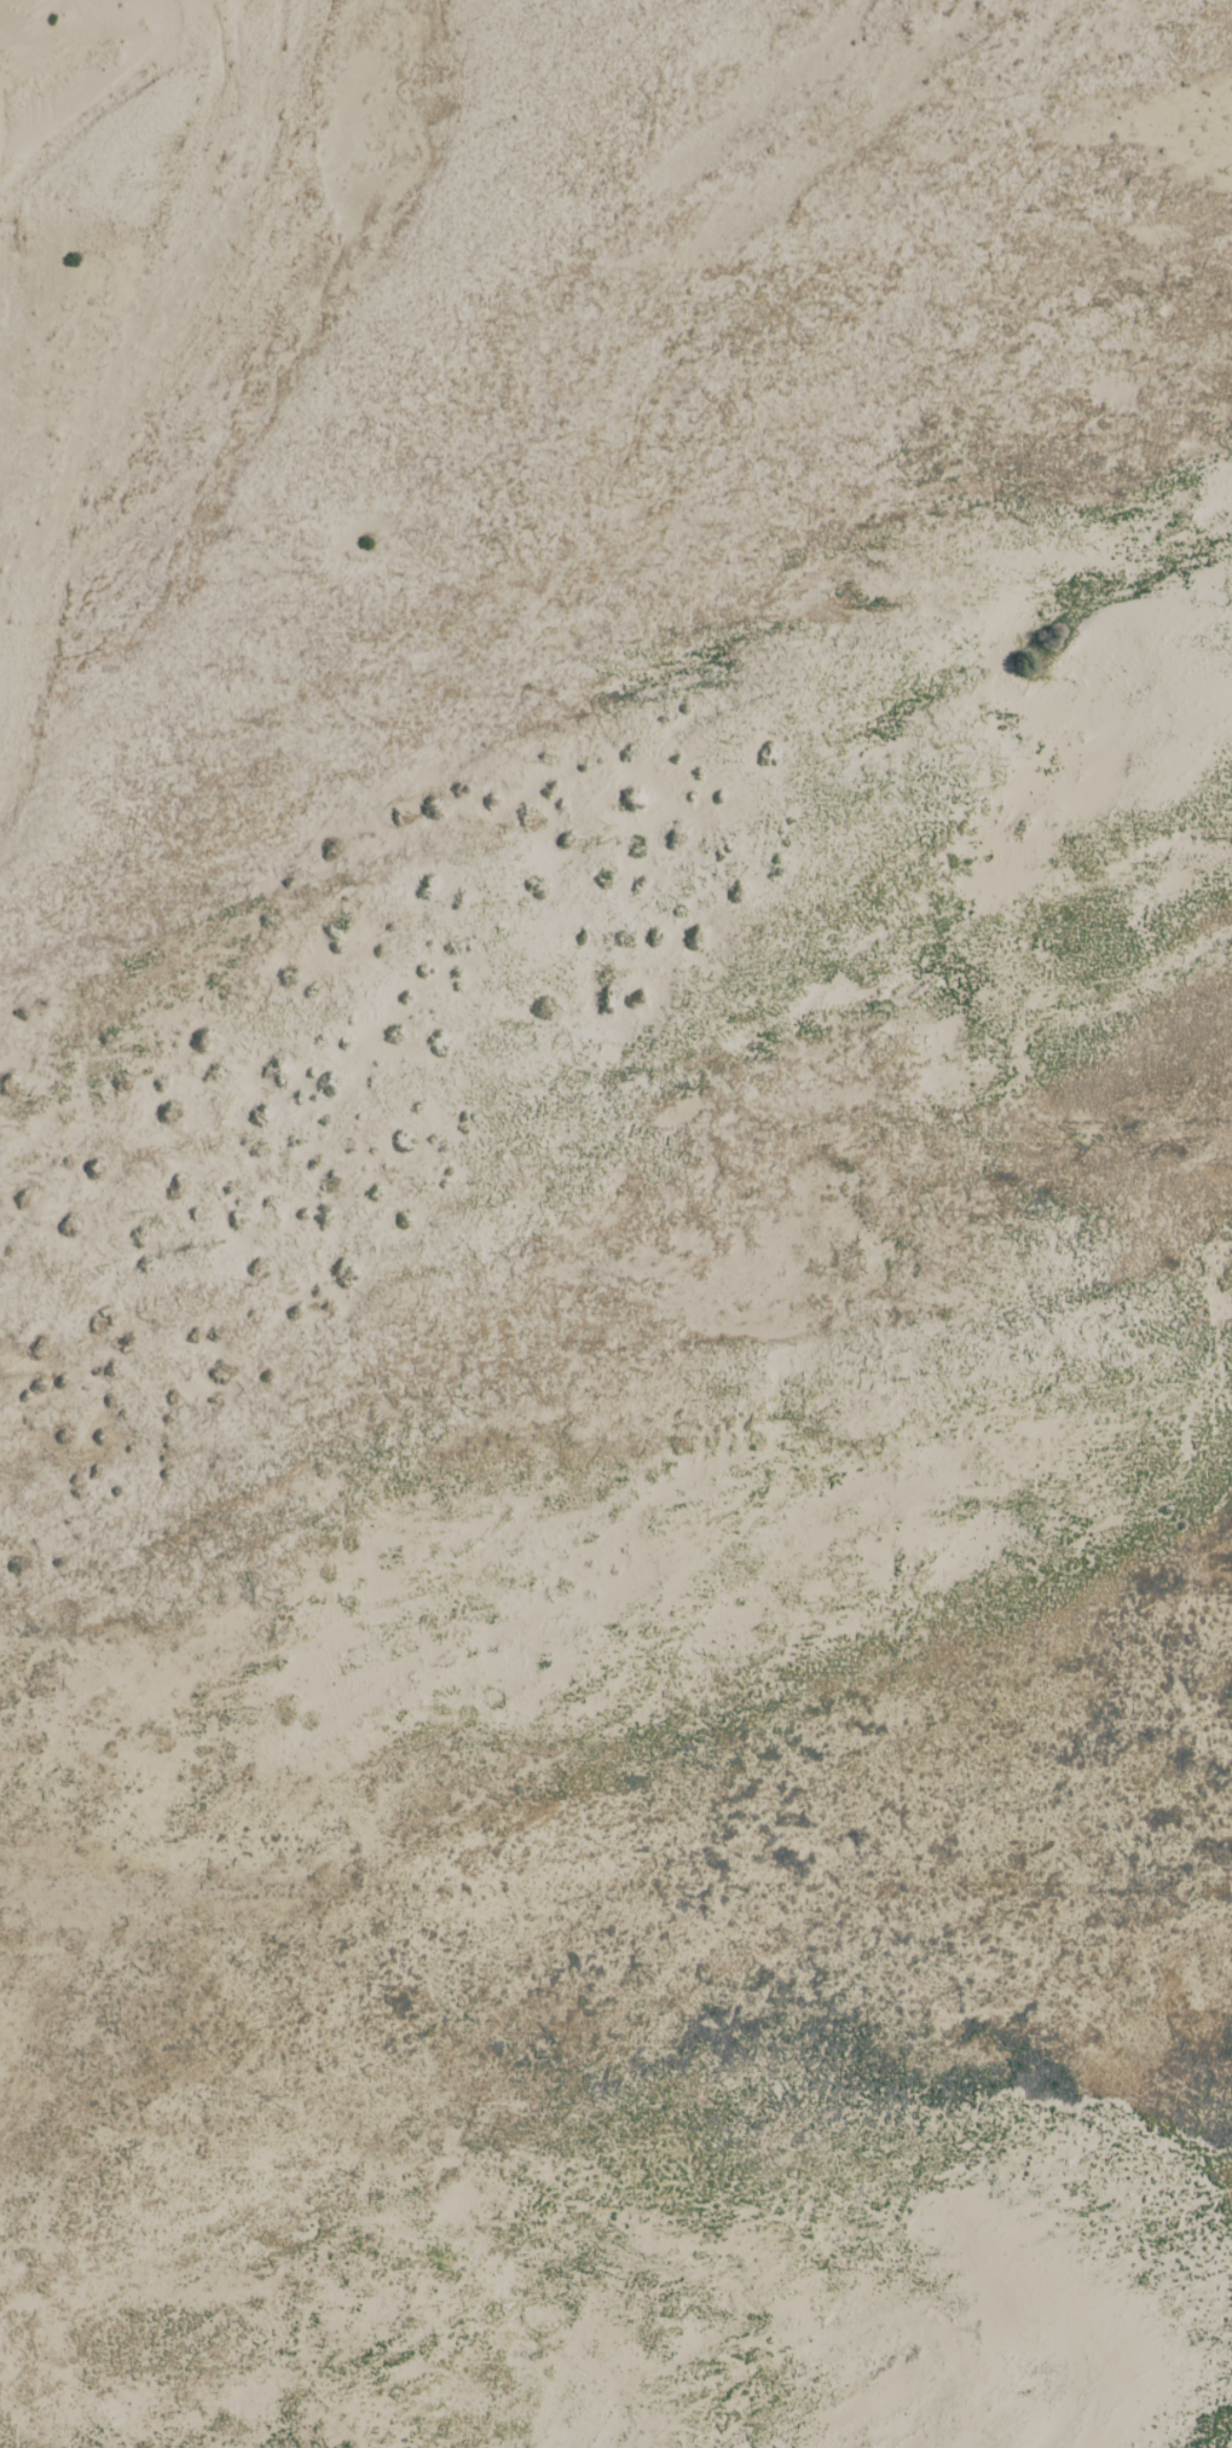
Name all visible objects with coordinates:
river: (2, 1)

